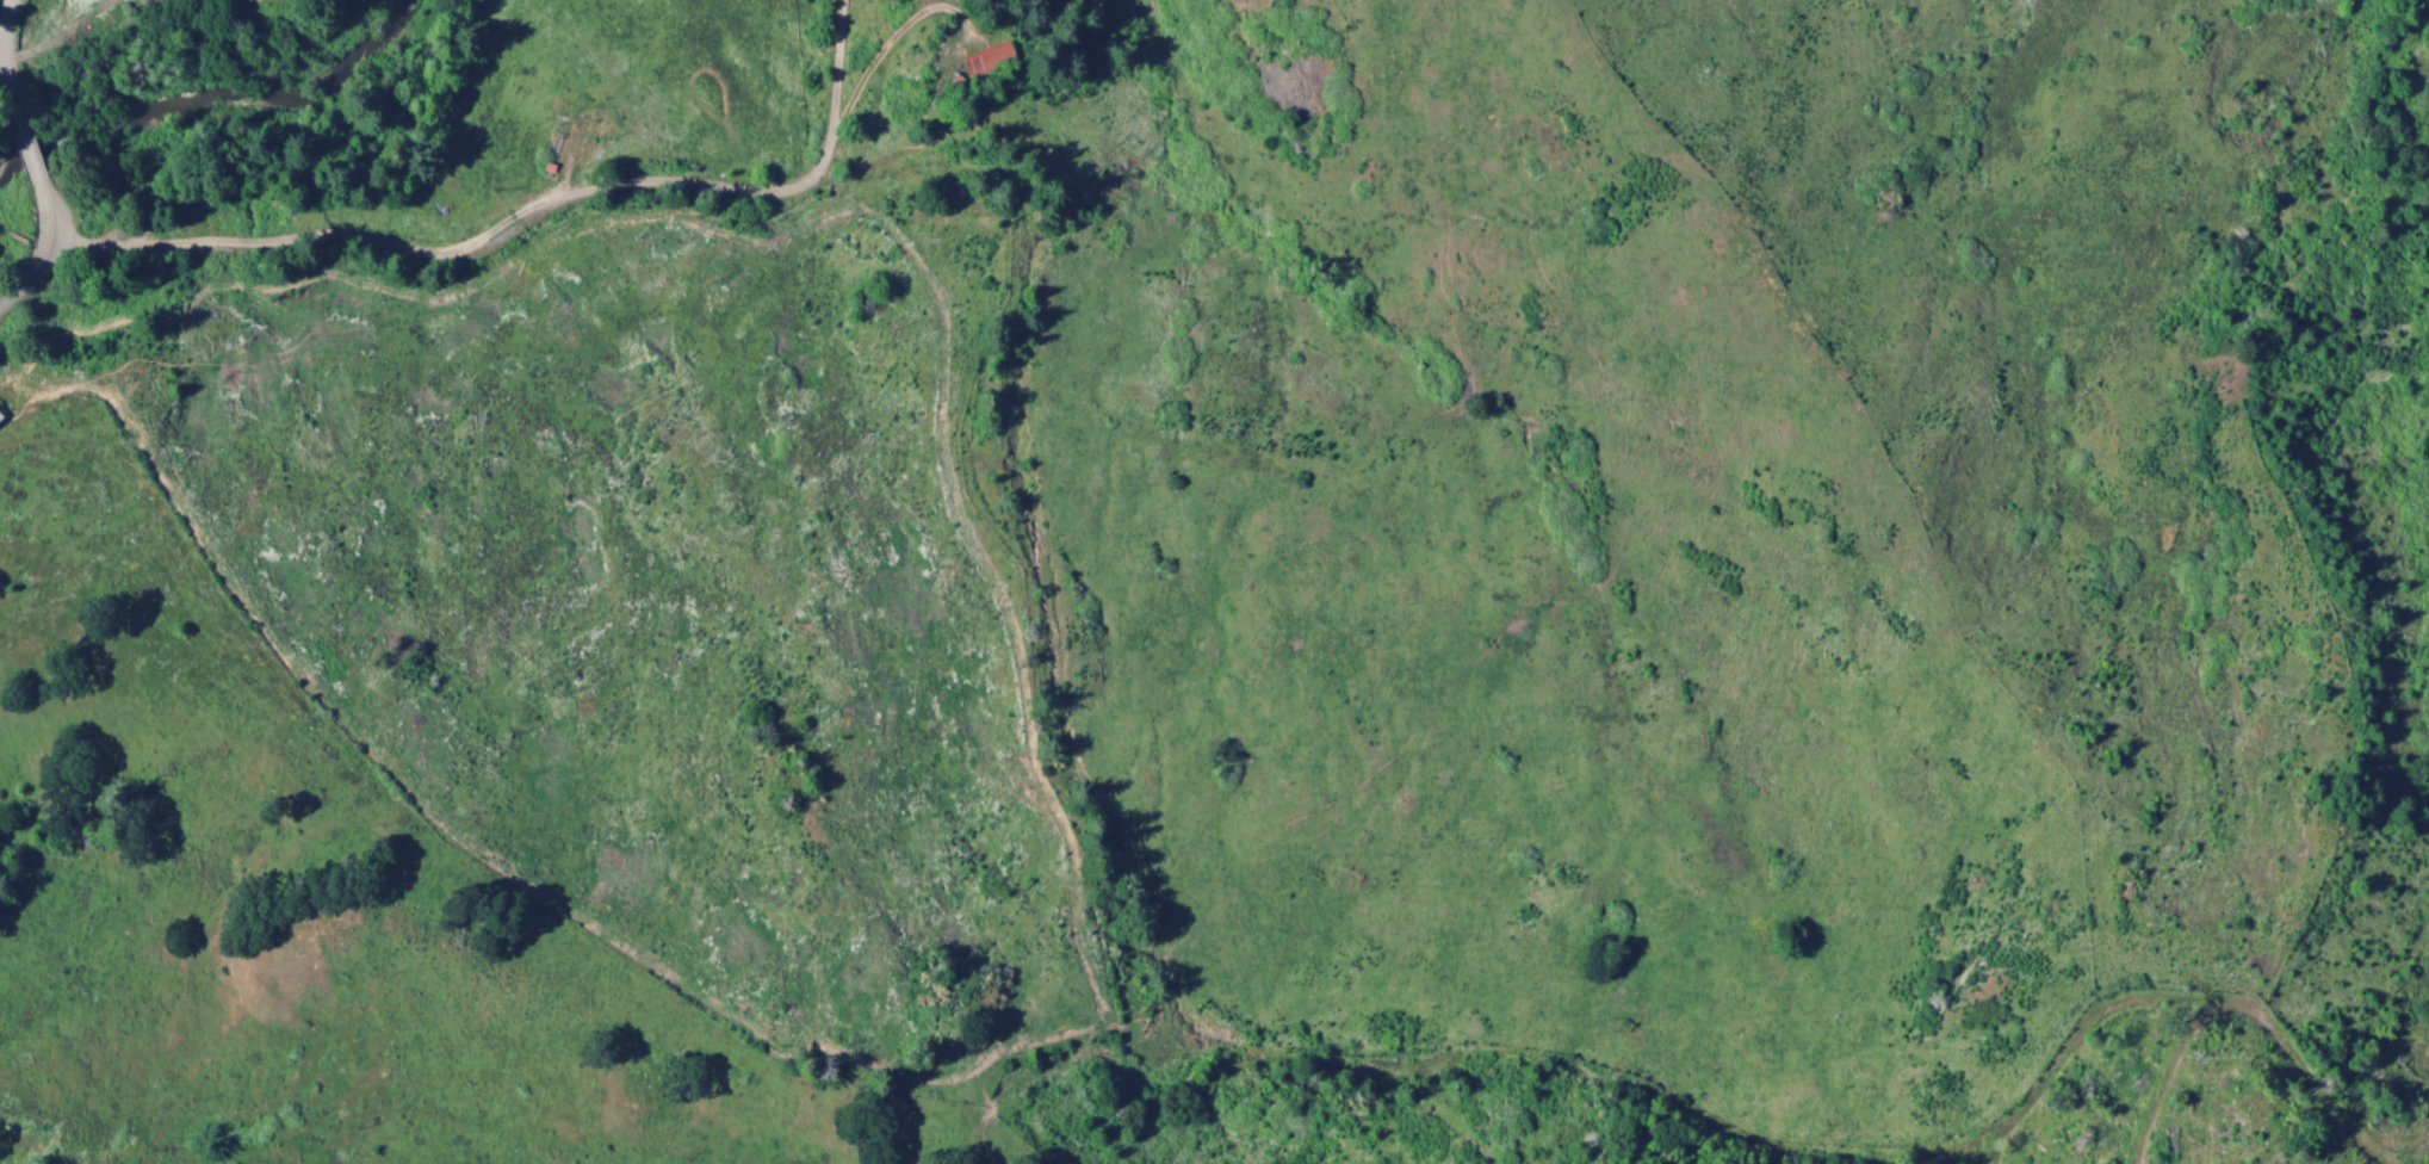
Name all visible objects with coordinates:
road: (5, 19)
road: (6, 78)
road: (24, 145)
road: (521, 224)
road: (42, 254)
building: (1, 416)
road: (1078, 824)
road: (2102, 1073)

